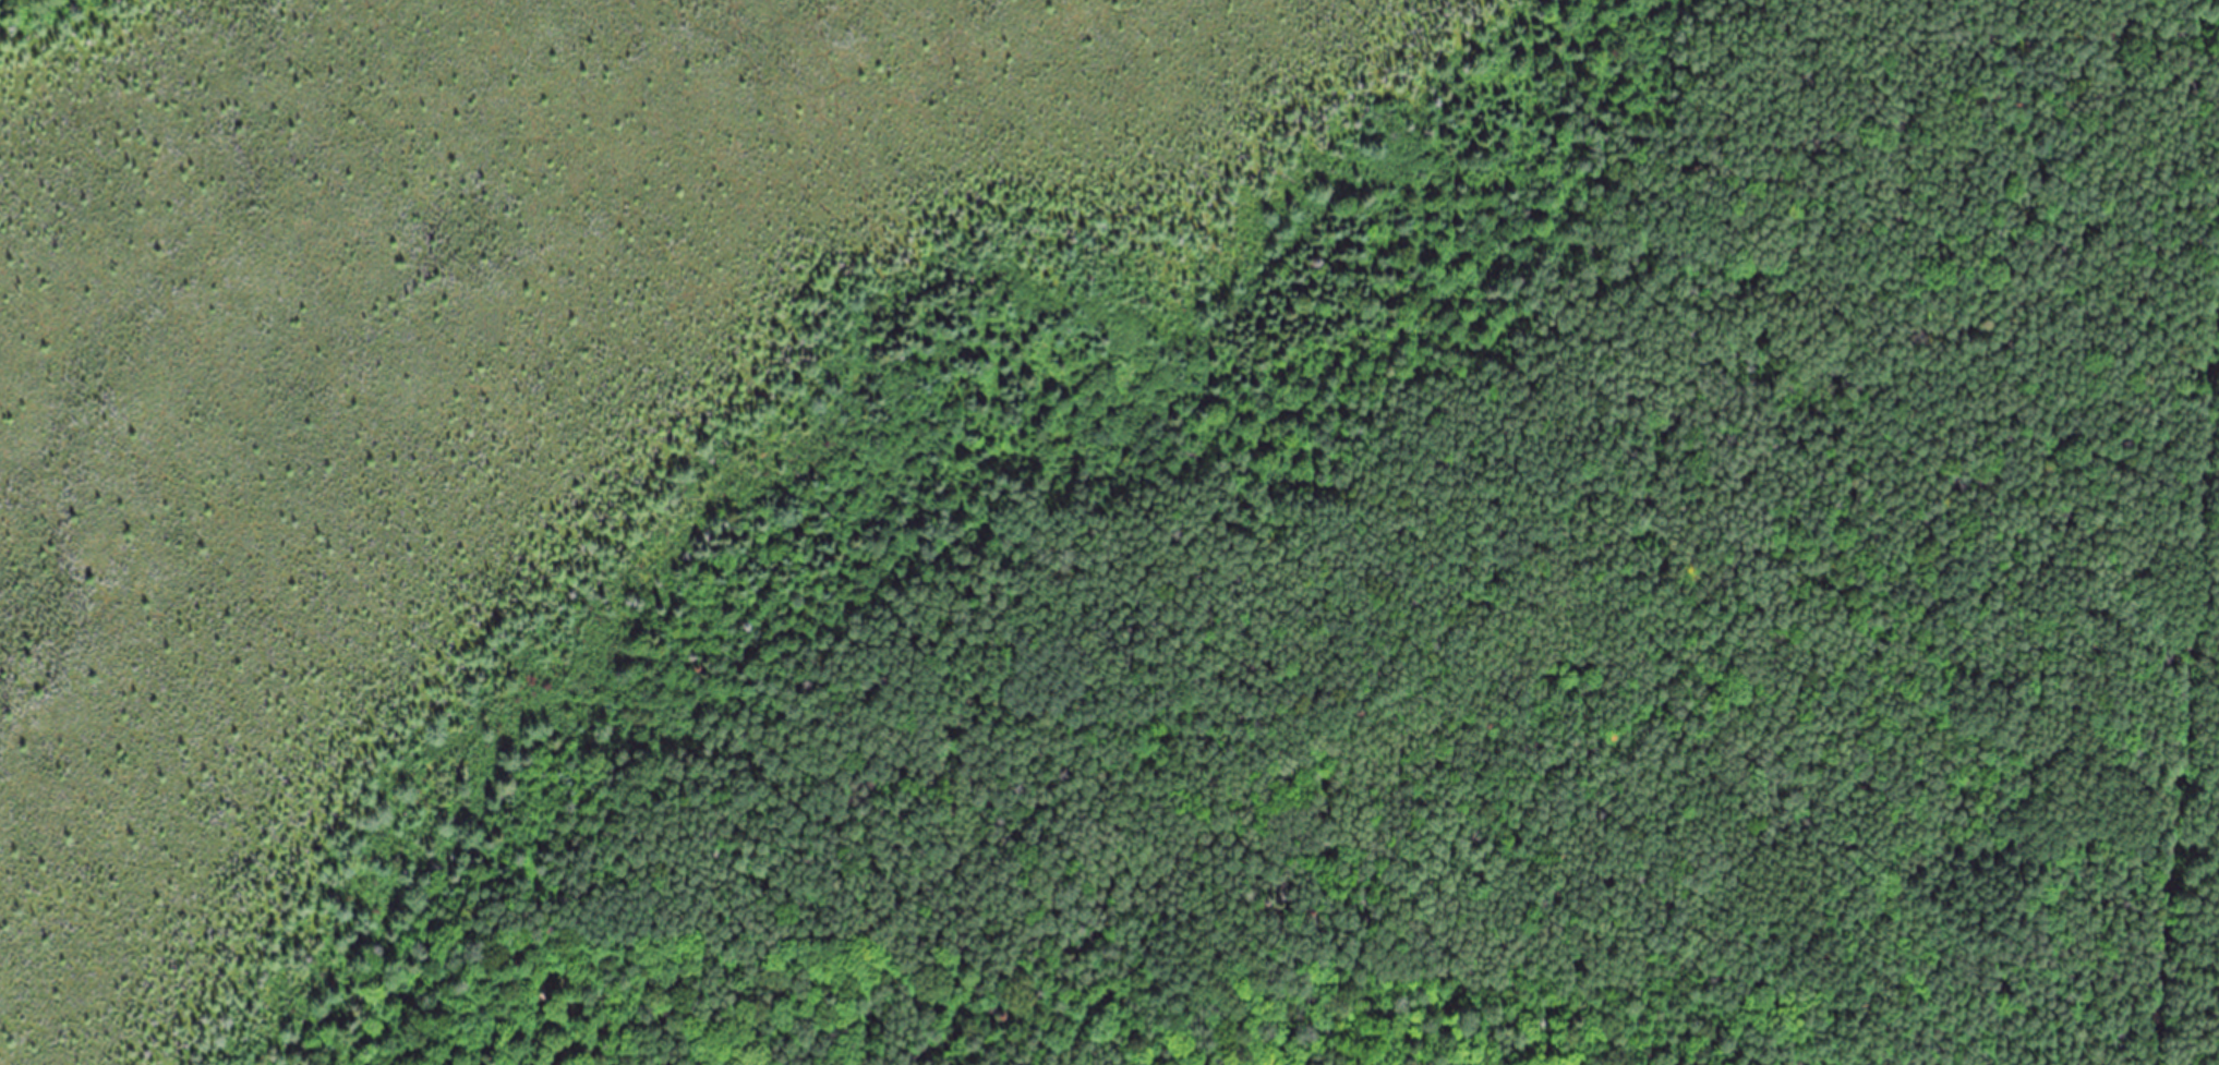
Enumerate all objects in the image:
road: (2216, 308)
road: (2182, 649)

